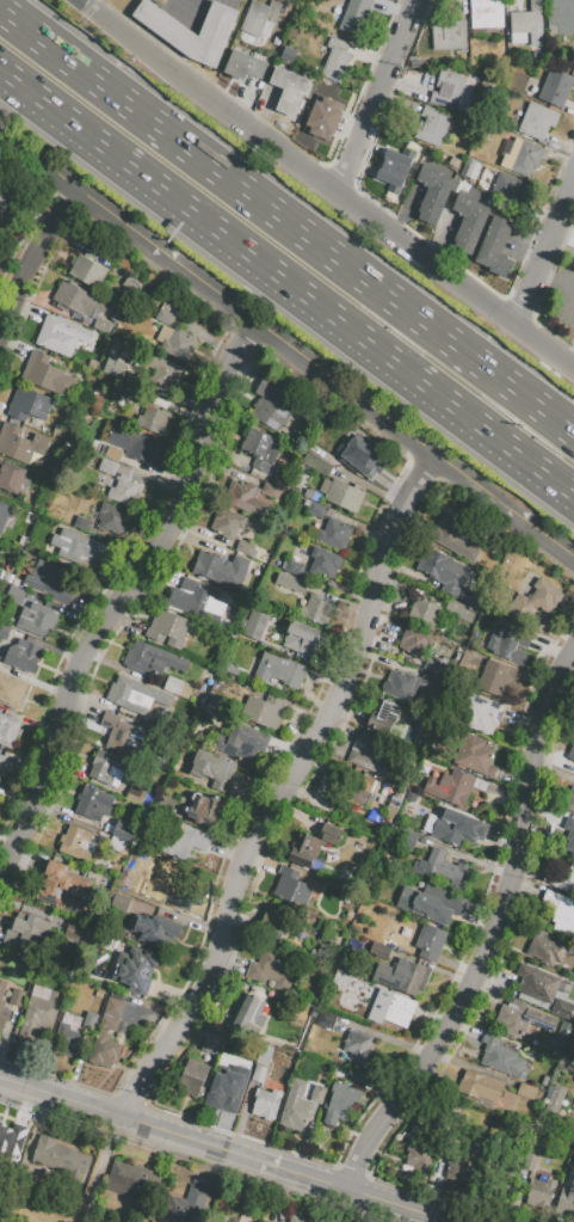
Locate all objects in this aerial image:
building: (445, 7)
building: (486, 13)
building: (354, 16)
building: (560, 17)
building: (259, 18)
building: (526, 24)
building: (163, 25)
building: (446, 35)
building: (286, 55)
building: (335, 60)
building: (243, 66)
building: (555, 86)
building: (289, 91)
building: (451, 91)
road: (377, 97)
building: (322, 118)
building: (537, 121)
building: (432, 125)
building: (520, 155)
building: (395, 168)
road: (323, 185)
building: (507, 188)
building: (432, 192)
building: (10, 194)
road: (286, 222)
building: (468, 222)
building: (494, 246)
road: (544, 253)
road: (31, 259)
building: (87, 271)
road: (286, 282)
parking lot: (562, 297)
building: (78, 299)
building: (118, 315)
building: (163, 317)
building: (100, 324)
building: (60, 334)
building: (177, 342)
road: (288, 344)
building: (112, 367)
building: (47, 375)
building: (163, 376)
building: (277, 403)
building: (29, 405)
building: (153, 419)
building: (19, 443)
building: (134, 444)
building: (261, 449)
building: (316, 450)
building: (112, 453)
building: (362, 460)
building: (316, 463)
building: (106, 467)
building: (11, 475)
building: (270, 490)
building: (125, 491)
building: (341, 493)
building: (311, 495)
building: (246, 499)
building: (315, 509)
building: (4, 514)
building: (112, 518)
building: (82, 523)
building: (227, 523)
building: (334, 534)
building: (448, 535)
building: (70, 545)
building: (245, 547)
building: (323, 563)
building: (294, 567)
building: (220, 569)
building: (443, 571)
building: (49, 582)
building: (291, 583)
building: (14, 595)
building: (468, 596)
road: (124, 598)
building: (537, 598)
building: (200, 600)
building: (315, 609)
building: (459, 609)
building: (424, 612)
building: (37, 619)
building: (255, 625)
building: (167, 630)
building: (4, 632)
building: (300, 637)
building: (415, 641)
building: (507, 643)
building: (21, 656)
building: (150, 658)
building: (433, 665)
building: (279, 670)
building: (495, 678)
building: (408, 683)
building: (173, 686)
building: (126, 690)
building: (11, 692)
building: (265, 711)
building: (480, 713)
building: (379, 717)
building: (8, 730)
building: (118, 732)
building: (241, 741)
building: (572, 753)
building: (475, 755)
building: (371, 756)
building: (2, 764)
building: (105, 766)
building: (179, 770)
building: (216, 772)
building: (450, 787)
building: (359, 788)
road: (286, 790)
building: (136, 796)
building: (569, 800)
building: (93, 803)
building: (166, 805)
building: (203, 807)
building: (569, 823)
building: (458, 829)
building: (125, 830)
building: (74, 842)
building: (184, 842)
building: (311, 845)
building: (569, 845)
building: (445, 870)
building: (569, 877)
building: (62, 888)
building: (150, 888)
building: (294, 888)
building: (431, 903)
building: (560, 911)
building: (272, 923)
building: (25, 929)
building: (156, 929)
building: (78, 932)
road: (495, 935)
building: (430, 941)
building: (543, 950)
building: (381, 951)
building: (135, 969)
building: (273, 969)
building: (402, 976)
building: (339, 980)
building: (537, 983)
building: (117, 996)
building: (16, 997)
building: (2, 1007)
building: (113, 1007)
building: (391, 1008)
building: (563, 1009)
building: (39, 1015)
building: (246, 1015)
building: (521, 1019)
building: (90, 1020)
building: (109, 1023)
building: (66, 1040)
building: (556, 1040)
building: (210, 1043)
building: (358, 1048)
building: (104, 1050)
building: (495, 1055)
building: (569, 1055)
building: (245, 1070)
building: (258, 1074)
building: (192, 1077)
building: (358, 1077)
building: (222, 1083)
building: (481, 1086)
building: (526, 1091)
building: (316, 1093)
building: (554, 1100)
building: (266, 1103)
building: (340, 1103)
building: (295, 1112)
building: (469, 1117)
building: (11, 1141)
road: (217, 1149)
building: (418, 1152)
building: (461, 1156)
building: (58, 1159)
building: (529, 1162)
building: (499, 1168)
building: (135, 1183)
building: (541, 1193)
building: (567, 1199)
building: (184, 1205)
building: (296, 1218)

